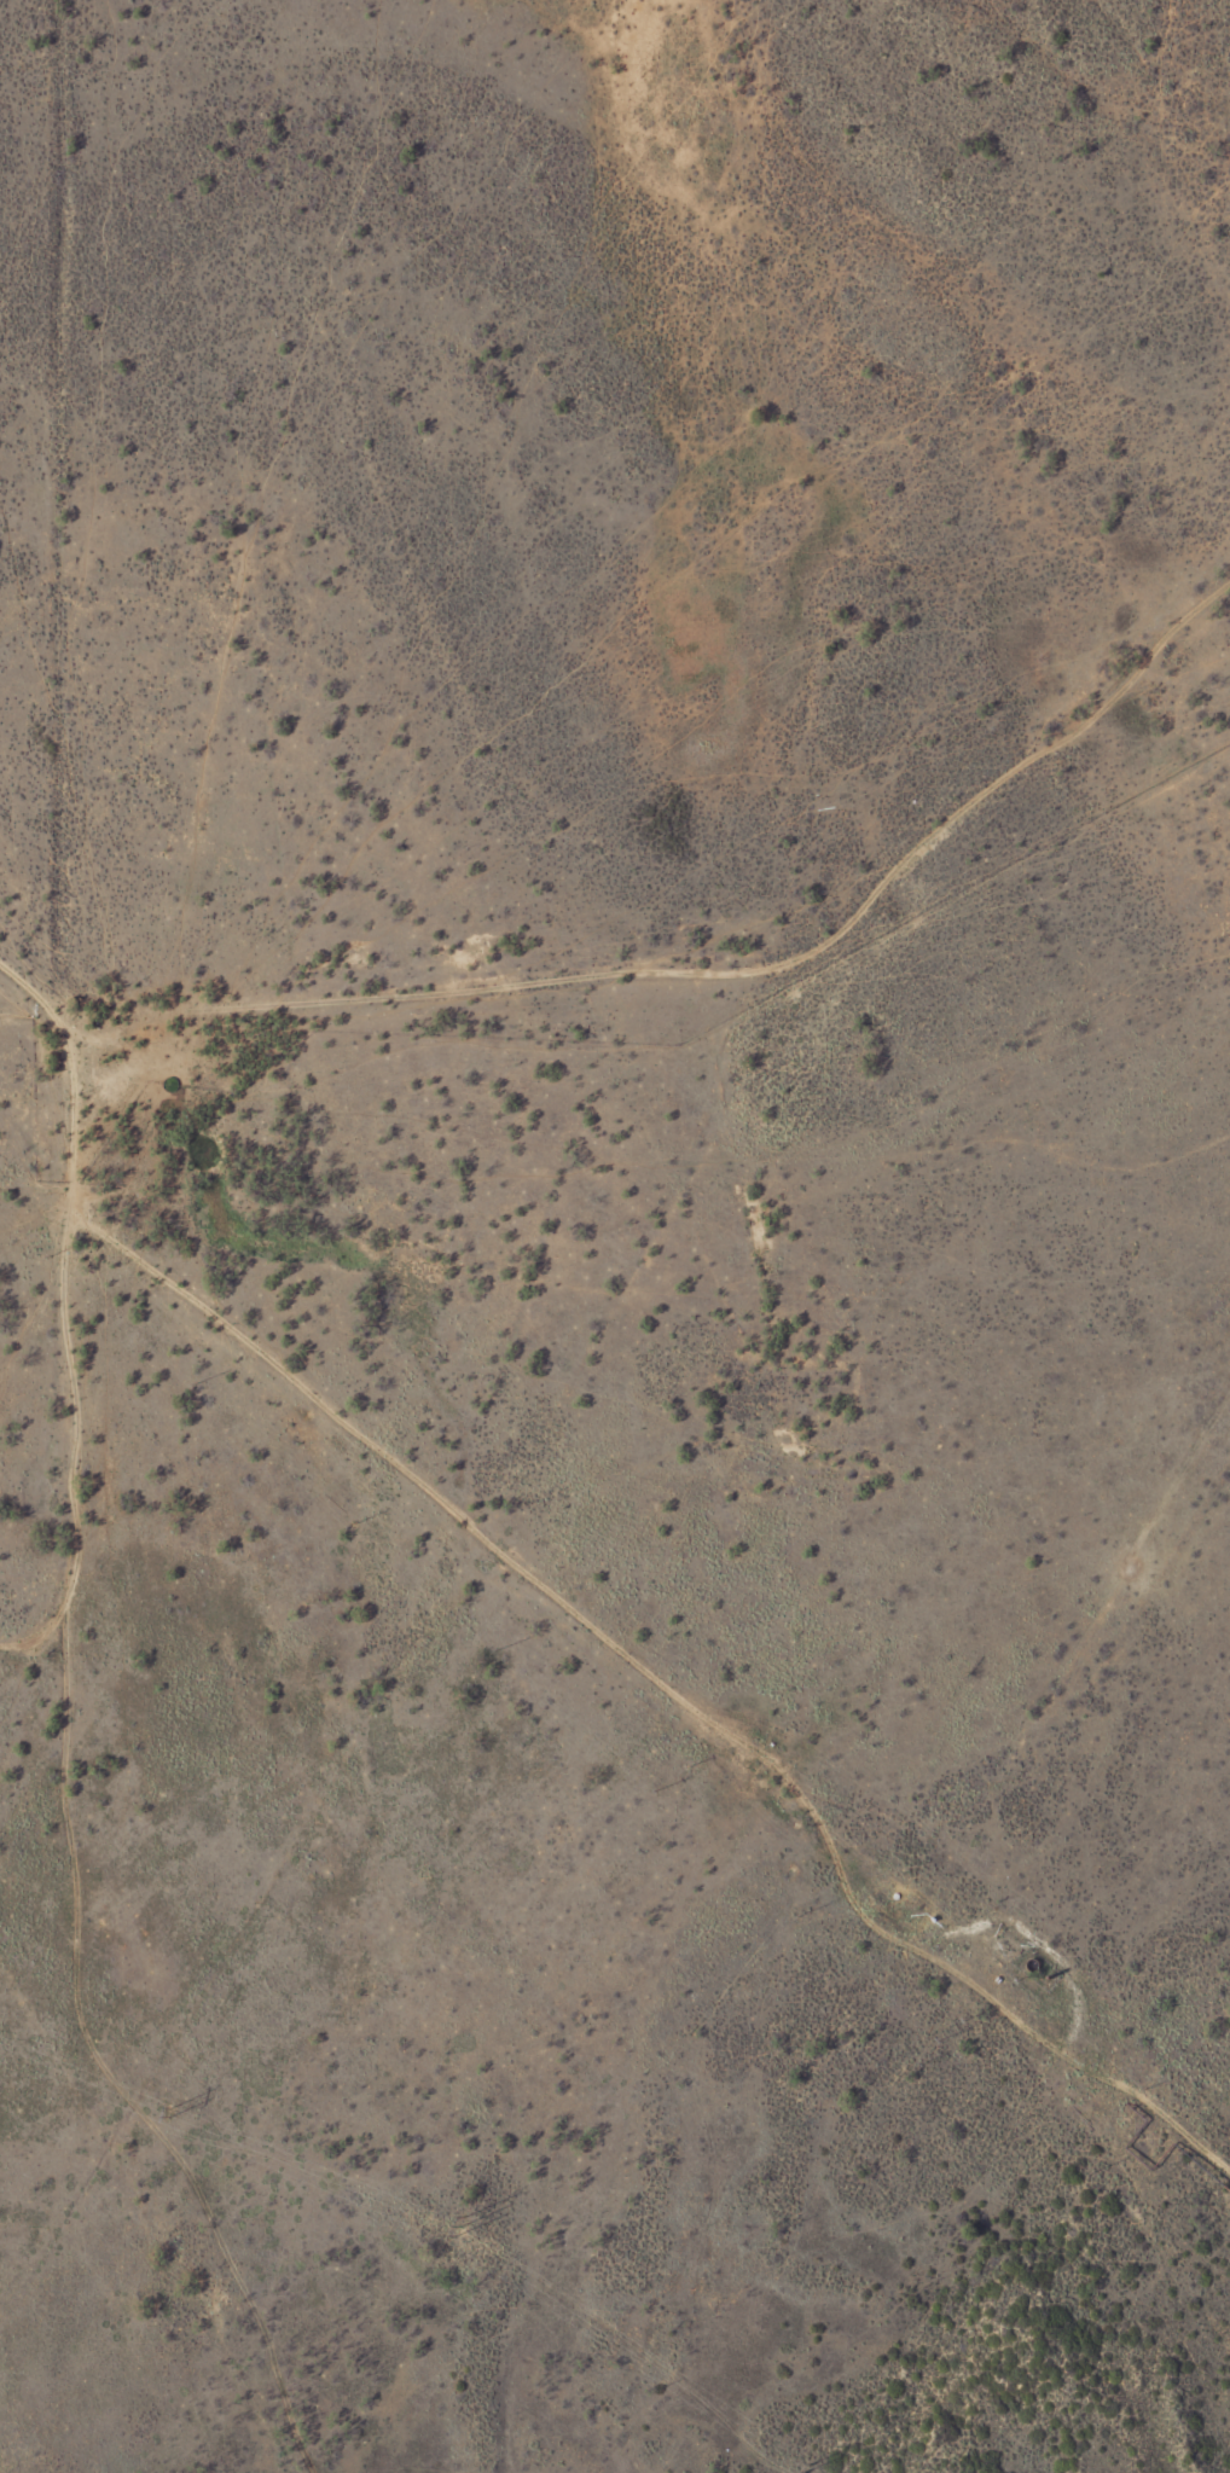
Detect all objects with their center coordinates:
power tower: (167, 2113)
power tower: (457, 2225)
power tower: (806, 2468)

